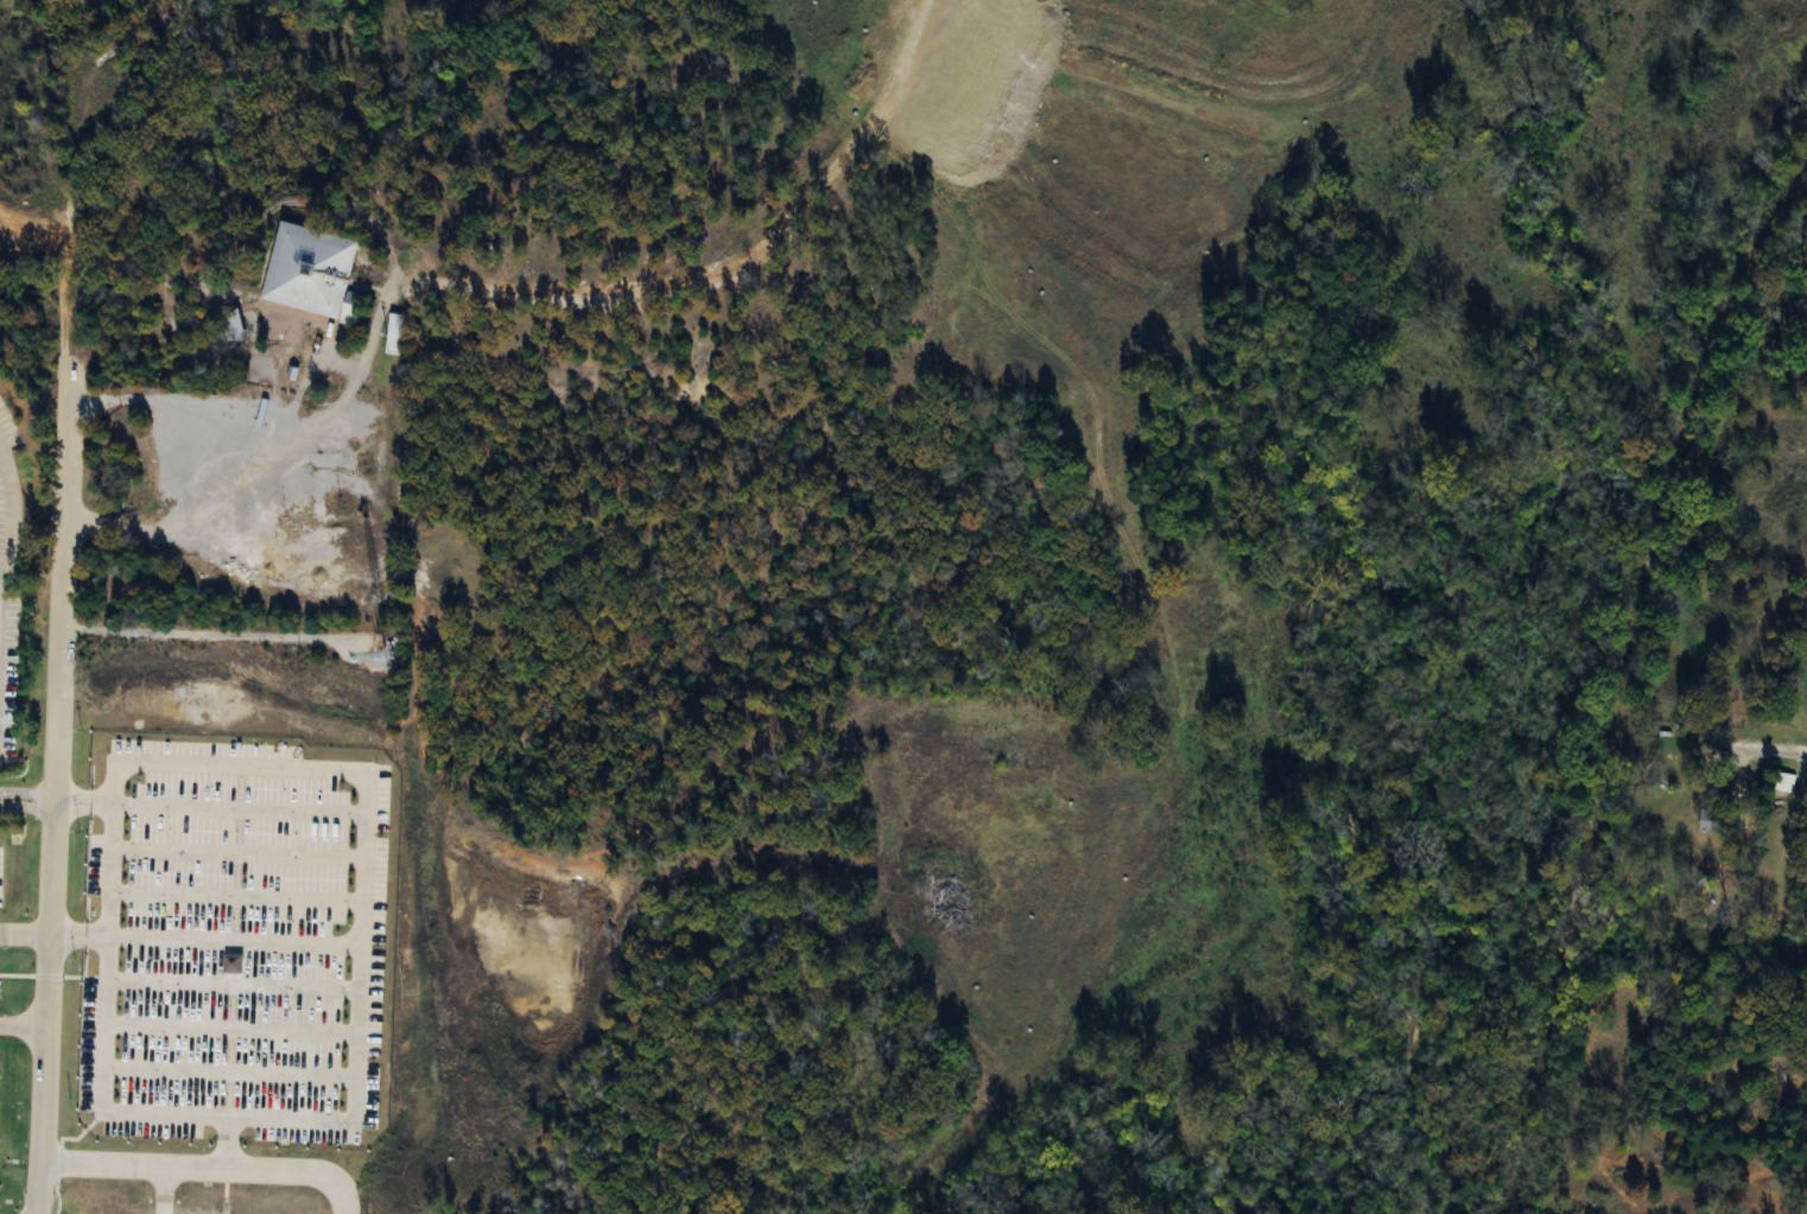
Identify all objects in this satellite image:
building: (310, 272)
building: (393, 332)
road: (196, 468)
road: (12, 514)
parking lot: (7, 584)
road: (1792, 755)
road: (55, 786)
road: (26, 795)
road: (26, 807)
building: (1710, 821)
road: (76, 930)
road: (24, 933)
road: (101, 1012)
road: (21, 1027)
road: (198, 1170)
road: (161, 1191)

